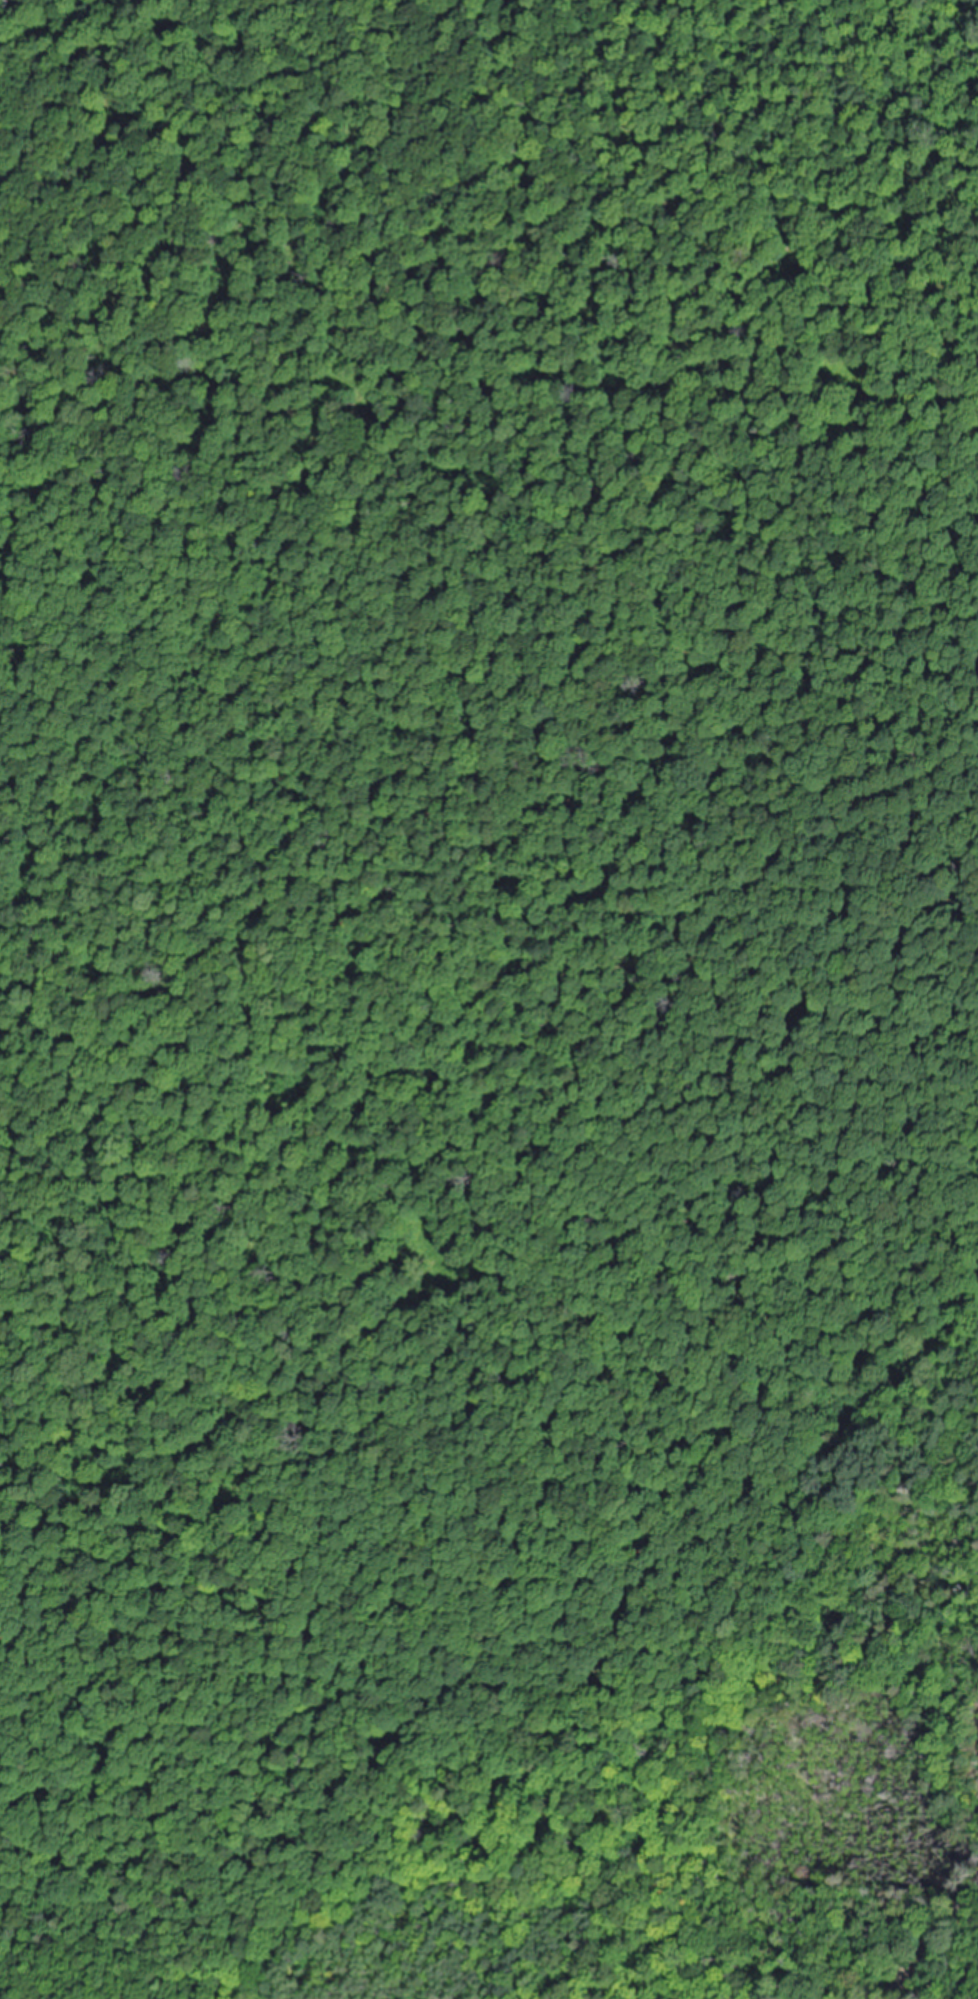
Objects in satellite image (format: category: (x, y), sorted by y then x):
road: (929, 1933)

